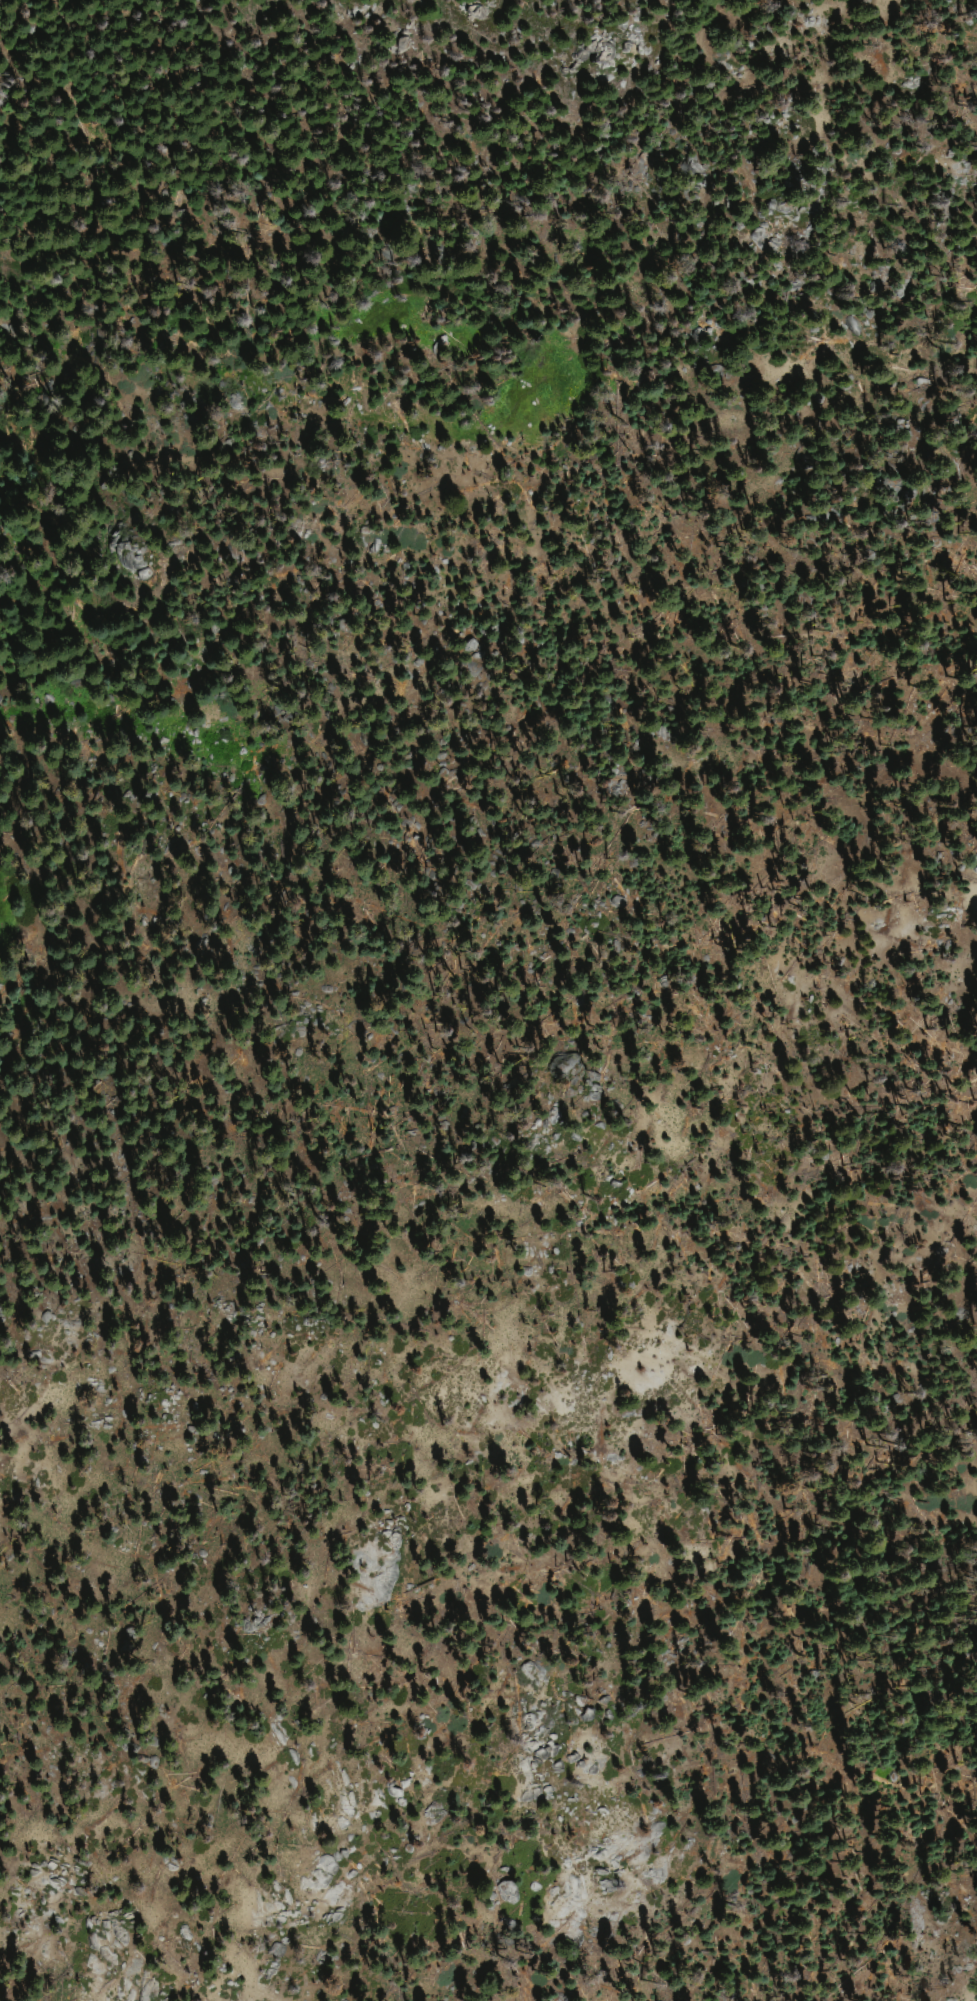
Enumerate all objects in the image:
road: (379, 747)
road: (493, 1457)

